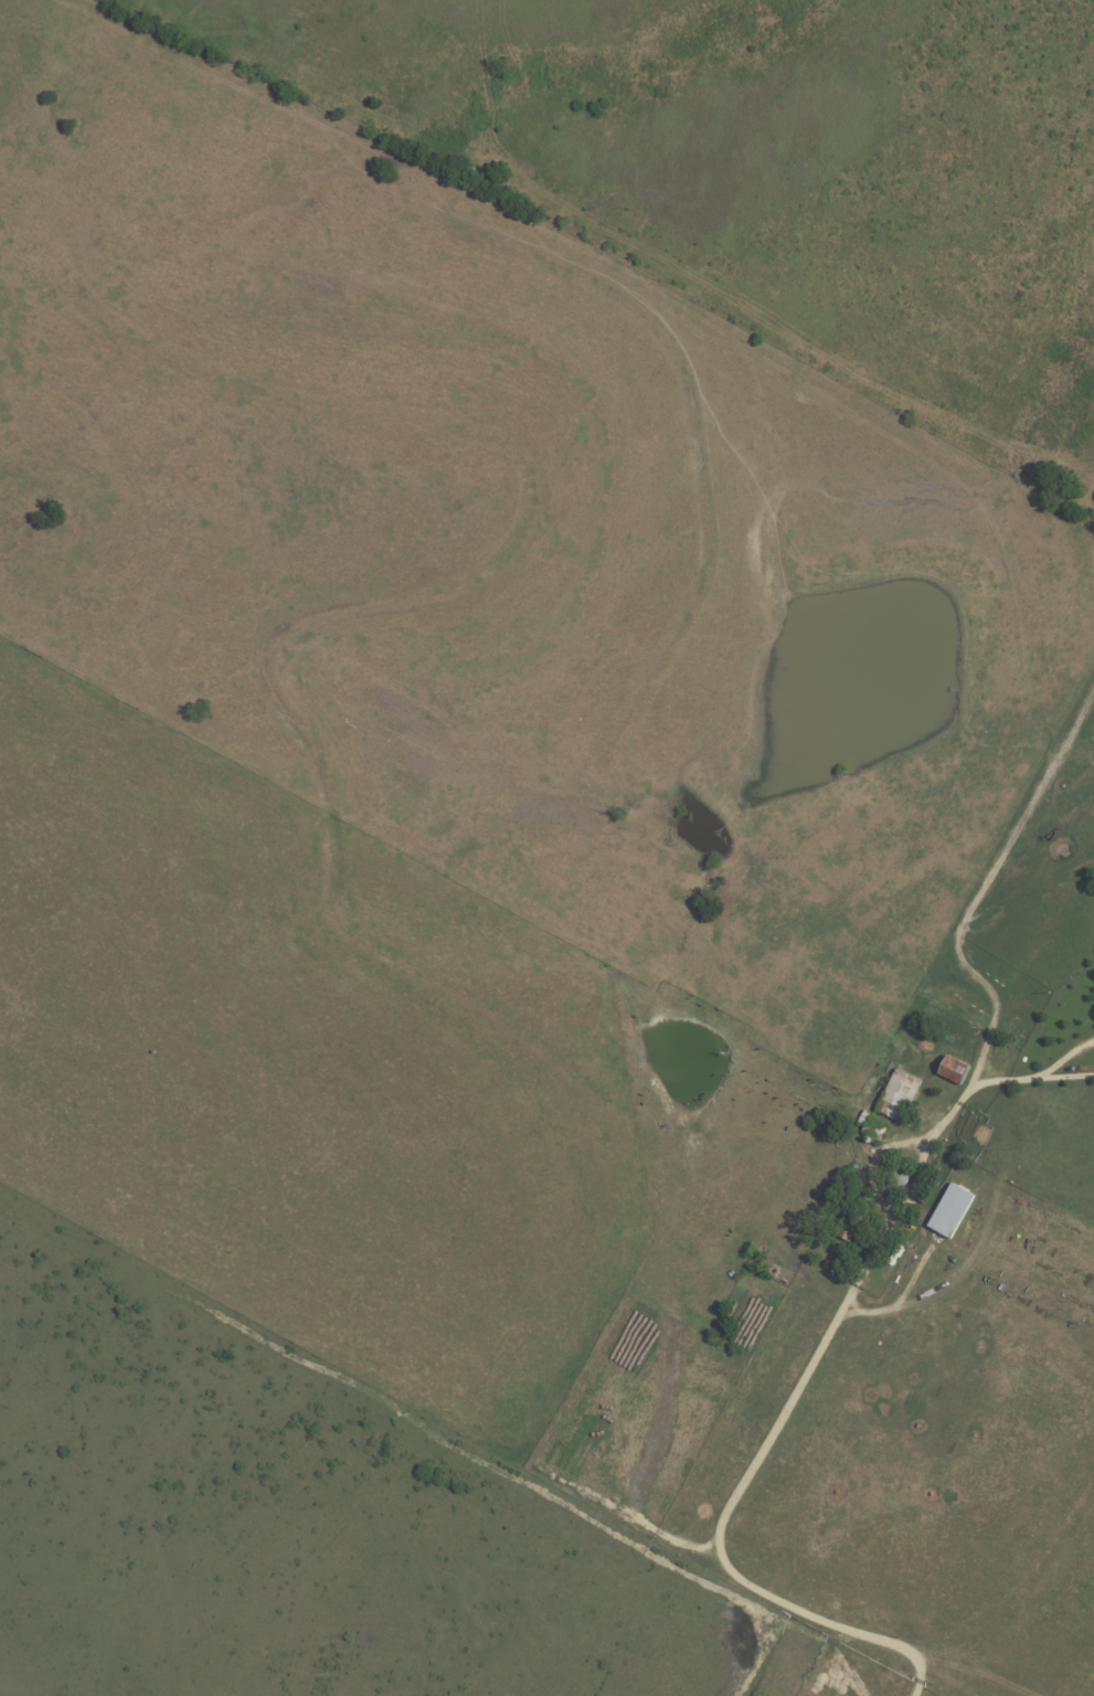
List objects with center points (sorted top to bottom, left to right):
road: (1065, 1057)
building: (956, 1070)
road: (1066, 1075)
building: (900, 1095)
building: (874, 1125)
building: (899, 1180)
building: (849, 1186)
building: (953, 1210)
building: (854, 1223)
road: (790, 1402)

